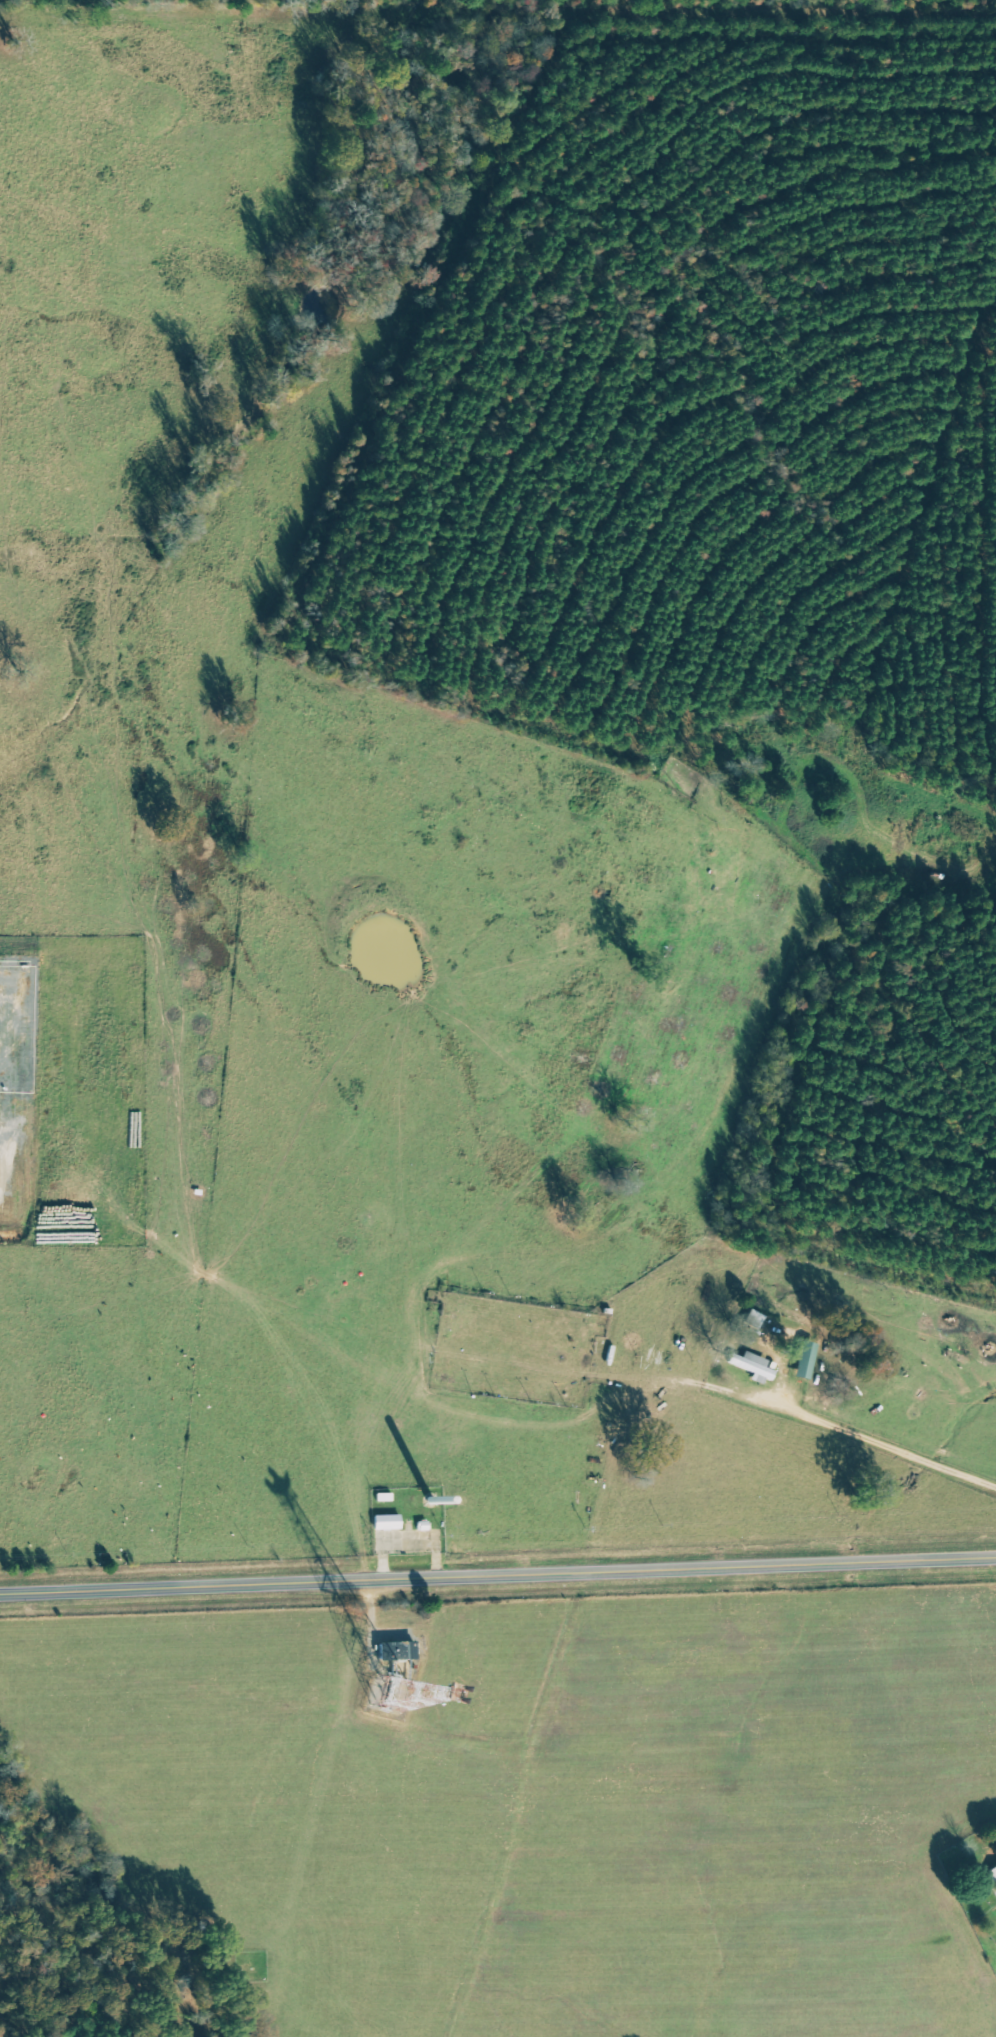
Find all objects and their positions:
building: (752, 1365)
building: (800, 1367)
road: (881, 1440)
building: (384, 1496)
building: (387, 1520)
building: (422, 1525)
road: (498, 1575)
building: (400, 1649)
building: (992, 1875)
building: (994, 1892)

